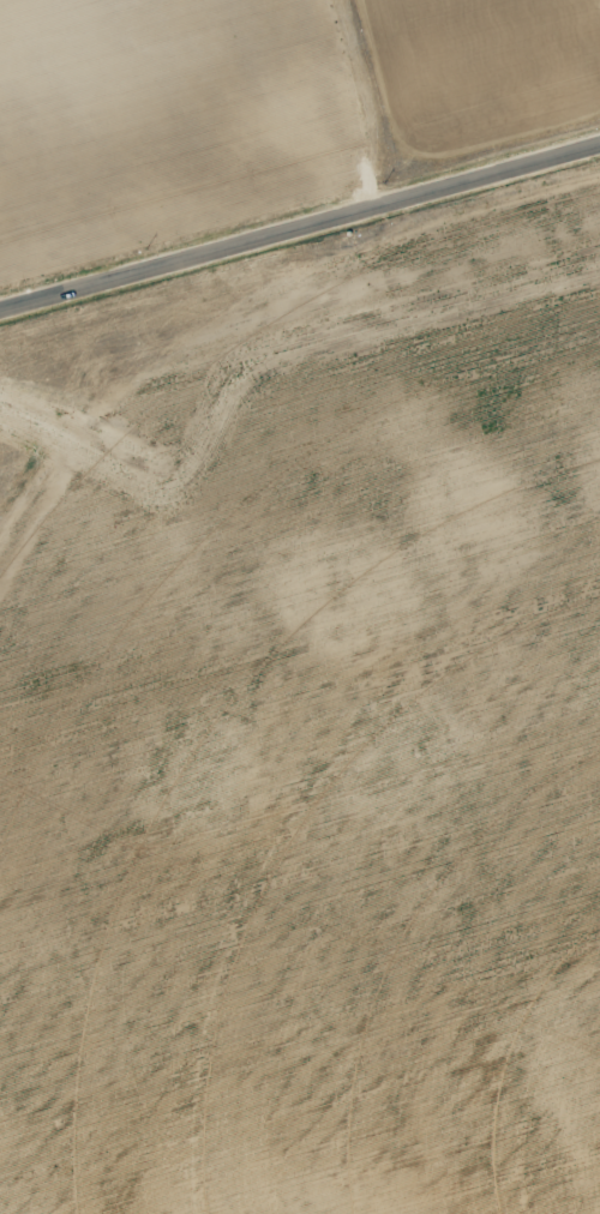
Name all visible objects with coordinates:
road: (300, 222)

